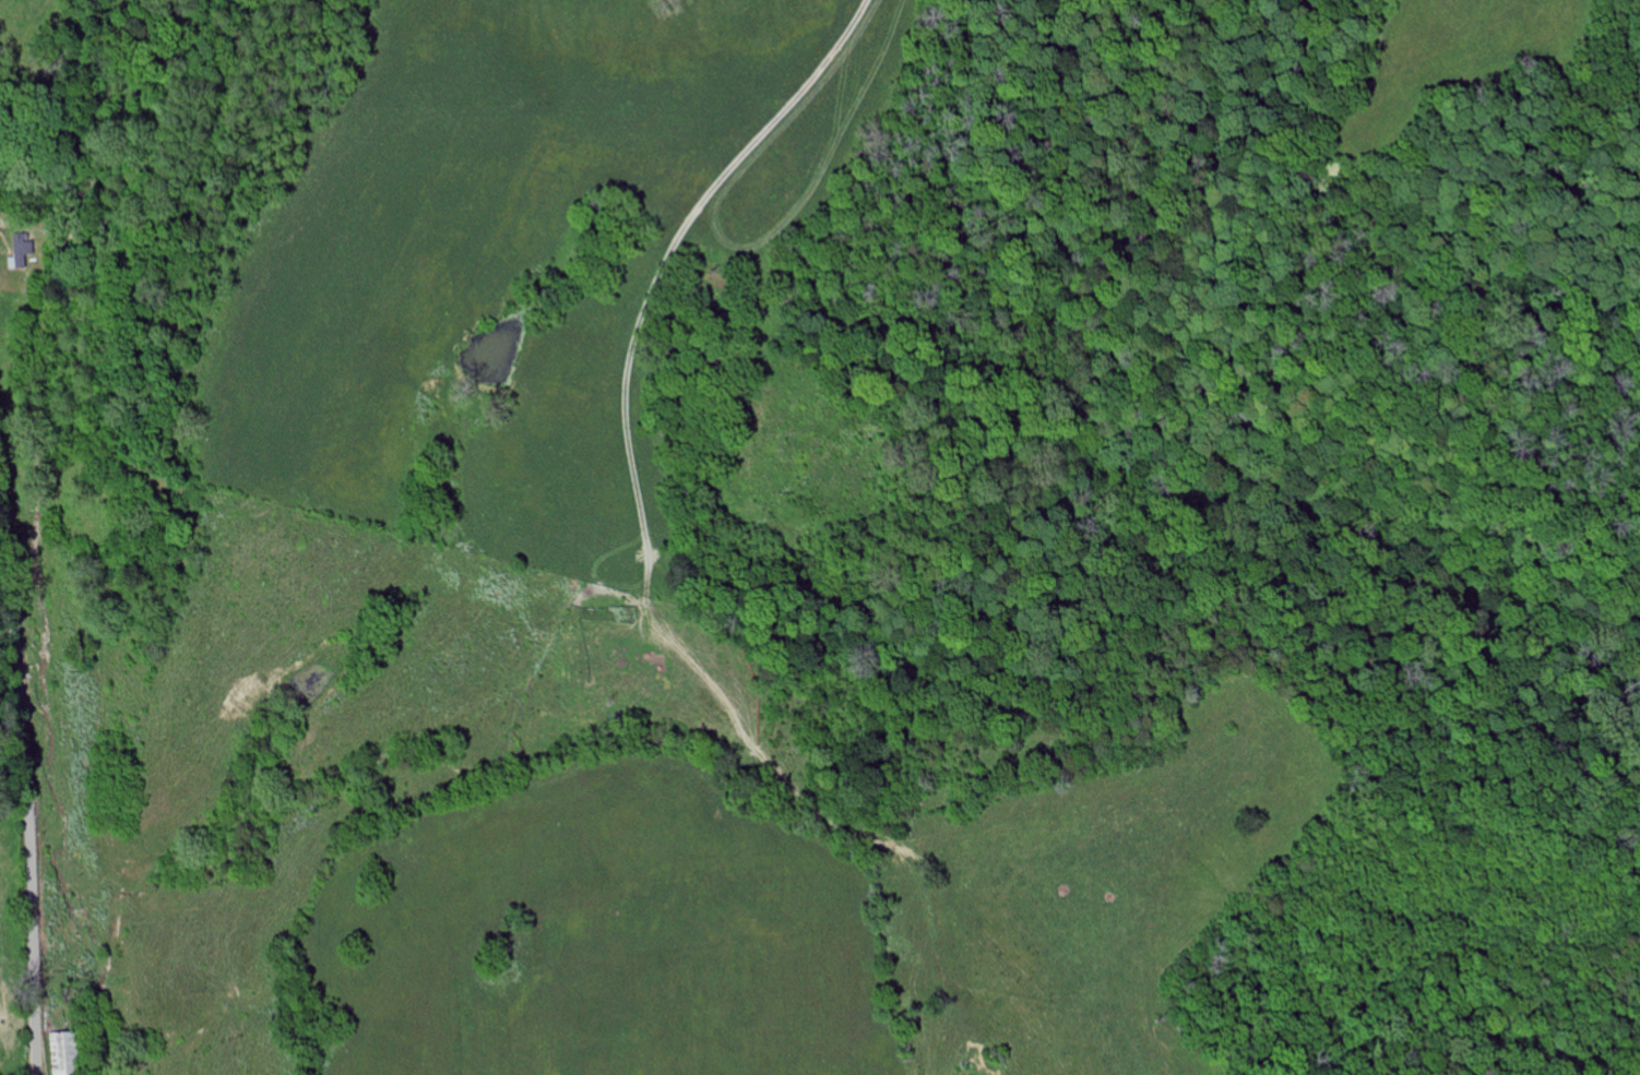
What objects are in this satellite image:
road: (24, 773)
building: (64, 1053)

